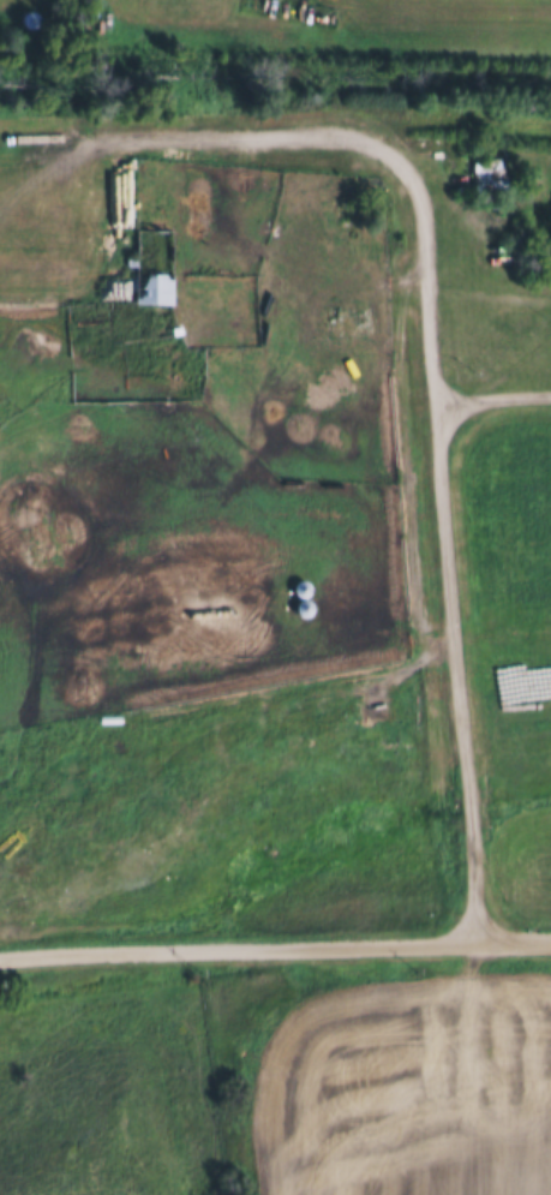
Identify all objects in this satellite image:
road: (309, 14)
road: (342, 138)
building: (486, 179)
building: (155, 267)
building: (303, 596)
road: (449, 623)
road: (275, 945)

